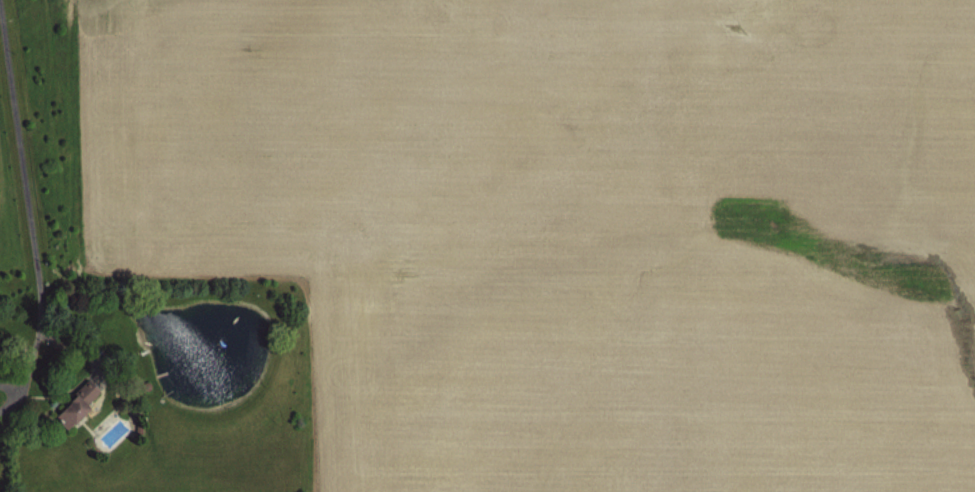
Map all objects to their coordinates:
road: (21, 212)
crop: (487, 246)
road: (11, 392)
building: (69, 405)

